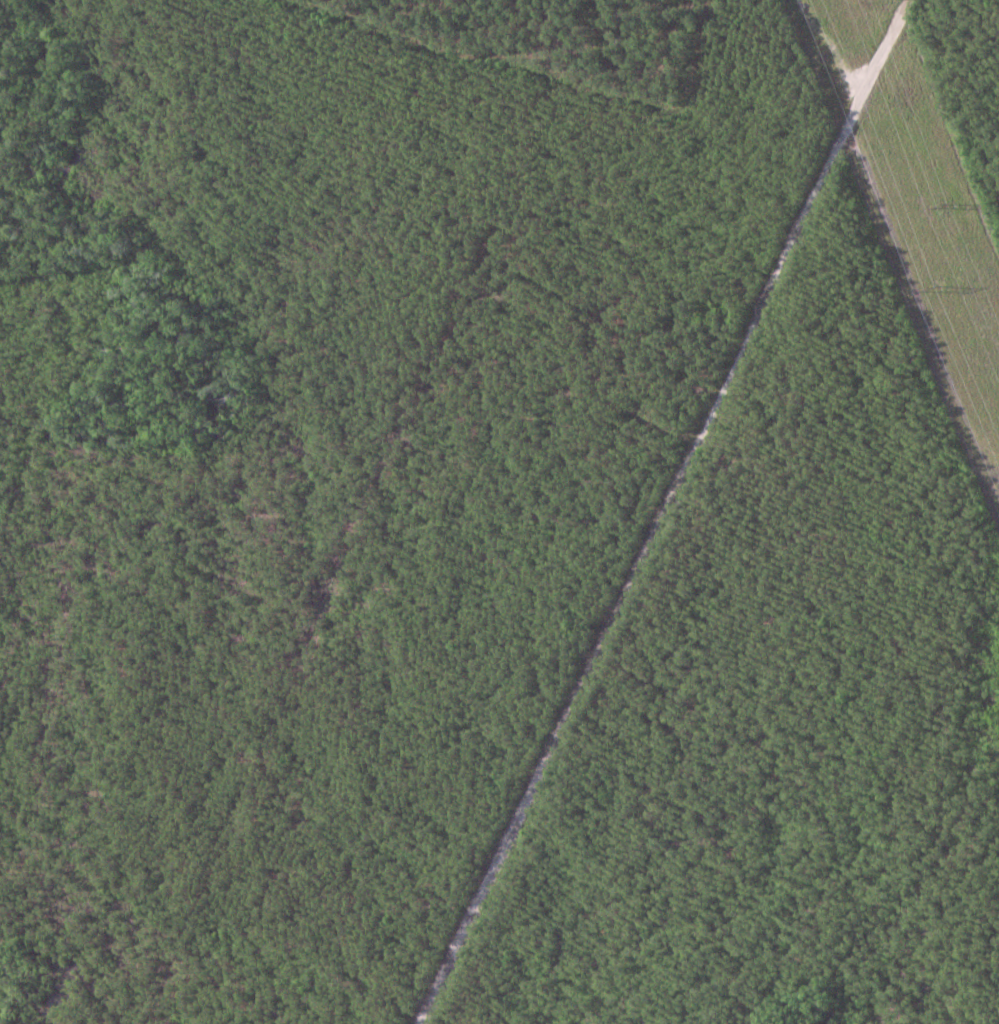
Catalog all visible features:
power tower: (954, 204)
power tower: (940, 289)
road: (656, 507)

